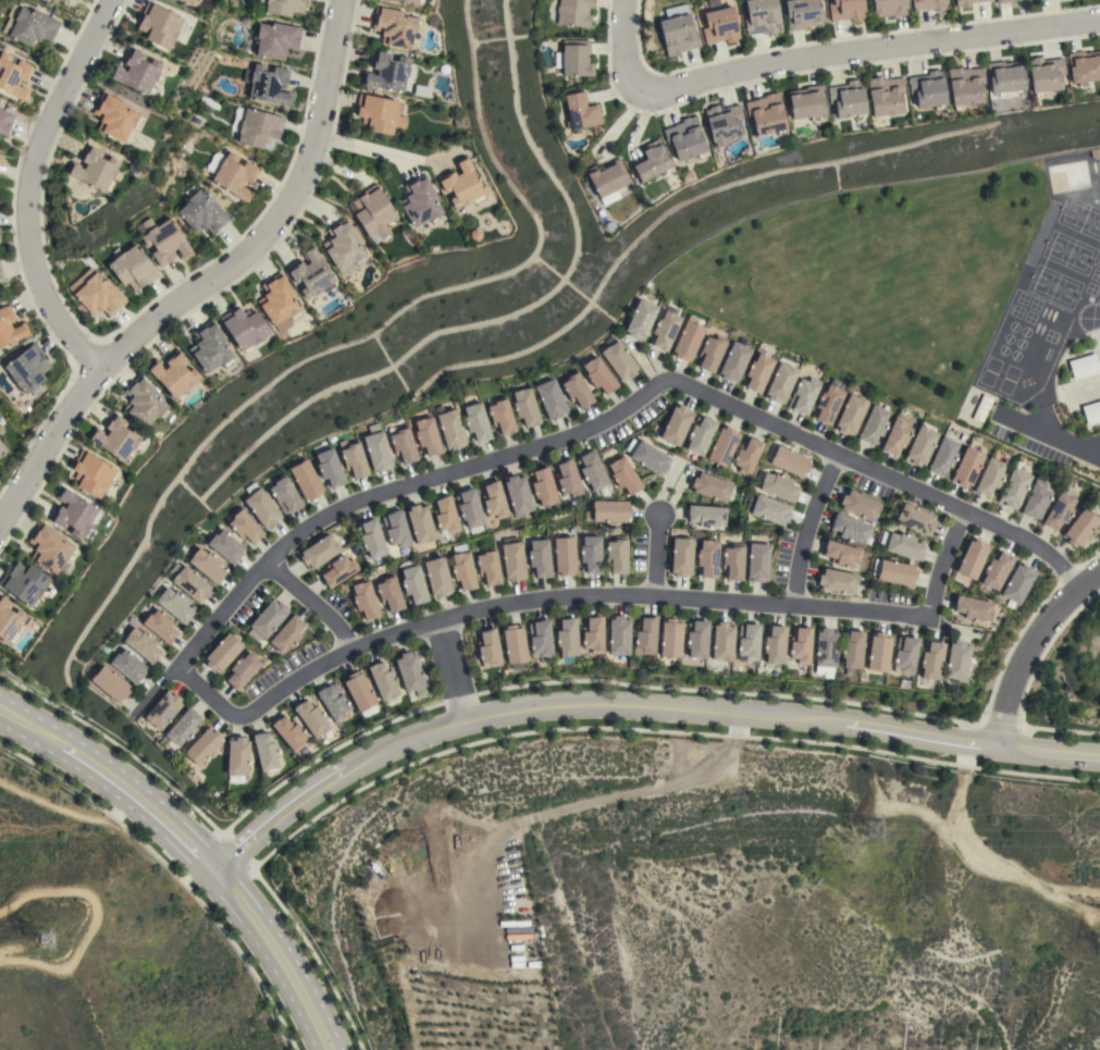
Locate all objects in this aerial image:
building: (54, 1)
building: (186, 1)
building: (407, 1)
building: (1002, 1)
building: (965, 2)
building: (713, 3)
building: (929, 4)
building: (283, 7)
building: (890, 8)
building: (846, 10)
building: (573, 12)
building: (803, 13)
building: (762, 16)
street lamp: (79, 21)
building: (28, 25)
building: (160, 25)
building: (720, 25)
building: (395, 26)
building: (678, 30)
building: (276, 39)
road: (630, 40)
road: (864, 52)
building: (574, 58)
building: (1084, 66)
building: (136, 72)
building: (388, 73)
building: (1046, 74)
building: (13, 76)
building: (1005, 77)
building: (268, 84)
building: (965, 86)
building: (928, 89)
building: (886, 95)
building: (848, 98)
building: (209, 102)
building: (807, 102)
building: (580, 111)
street lamp: (33, 113)
building: (379, 113)
building: (766, 114)
building: (115, 118)
building: (4, 122)
building: (722, 123)
building: (256, 126)
building: (685, 139)
road: (364, 148)
building: (651, 161)
building: (94, 170)
building: (232, 174)
building: (607, 181)
building: (461, 184)
road: (26, 186)
street lamp: (7, 199)
building: (421, 201)
building: (202, 213)
building: (373, 213)
building: (163, 240)
building: (344, 247)
building: (132, 268)
building: (312, 273)
building: (1, 275)
road: (207, 279)
street lamp: (22, 289)
building: (98, 296)
building: (279, 302)
building: (640, 319)
building: (10, 328)
building: (665, 328)
building: (244, 329)
street lamp: (86, 338)
building: (688, 339)
building: (210, 347)
building: (710, 351)
building: (618, 359)
building: (733, 362)
building: (1084, 366)
building: (27, 368)
building: (757, 372)
building: (174, 374)
building: (598, 374)
street lamp: (71, 382)
building: (780, 383)
building: (577, 390)
building: (804, 395)
building: (551, 399)
building: (144, 402)
building: (828, 404)
building: (526, 407)
building: (981, 408)
building: (1091, 412)
building: (851, 415)
building: (502, 416)
building: (477, 422)
building: (676, 424)
building: (873, 424)
building: (450, 429)
road: (586, 430)
building: (427, 435)
building: (700, 435)
road: (1050, 435)
building: (895, 436)
building: (116, 438)
building: (403, 444)
building: (920, 446)
building: (722, 447)
building: (2, 449)
building: (378, 449)
building: (647, 456)
building: (746, 456)
building: (943, 456)
building: (355, 460)
building: (790, 461)
building: (967, 467)
building: (330, 468)
building: (592, 470)
street lamp: (49, 473)
building: (92, 474)
building: (623, 475)
building: (990, 477)
building: (568, 479)
building: (306, 480)
building: (709, 486)
building: (778, 486)
building: (543, 487)
building: (1014, 489)
building: (285, 494)
building: (518, 494)
building: (494, 499)
building: (1036, 501)
building: (858, 505)
building: (261, 506)
building: (469, 508)
building: (768, 509)
building: (1059, 510)
building: (608, 511)
building: (74, 514)
building: (445, 516)
building: (705, 516)
building: (915, 519)
building: (420, 523)
building: (245, 526)
road: (804, 527)
building: (1080, 528)
building: (395, 529)
building: (849, 529)
building: (371, 539)
building: (902, 544)
building: (225, 546)
building: (51, 549)
building: (319, 552)
building: (591, 554)
building: (617, 554)
building: (841, 554)
building: (564, 555)
road: (654, 555)
building: (680, 556)
building: (540, 558)
building: (707, 558)
building: (972, 558)
building: (512, 561)
building: (733, 561)
building: (757, 561)
road: (942, 564)
building: (207, 565)
building: (489, 566)
building: (462, 568)
building: (996, 570)
building: (338, 571)
building: (895, 572)
building: (436, 577)
building: (837, 581)
building: (189, 582)
building: (1017, 582)
building: (412, 583)
building: (24, 584)
building: (388, 593)
building: (364, 600)
road: (528, 601)
road: (312, 602)
building: (175, 605)
building: (973, 608)
building: (268, 619)
building: (9, 621)
building: (159, 626)
building: (287, 634)
building: (593, 634)
building: (619, 635)
building: (645, 637)
building: (670, 638)
building: (540, 639)
building: (696, 639)
building: (567, 640)
building: (722, 641)
building: (747, 642)
building: (143, 644)
building: (800, 645)
building: (514, 646)
building: (774, 646)
road: (1026, 646)
building: (489, 648)
building: (825, 651)
building: (852, 652)
building: (878, 652)
building: (223, 653)
building: (904, 655)
building: (956, 660)
building: (930, 663)
building: (127, 666)
road: (450, 669)
building: (243, 670)
building: (408, 671)
building: (383, 680)
building: (111, 684)
building: (360, 693)
building: (333, 702)
road: (633, 705)
building: (163, 709)
building: (312, 718)
building: (183, 728)
building: (289, 732)
building: (203, 745)
building: (265, 752)
building: (237, 759)
road: (76, 814)
power tower: (878, 831)
road: (191, 851)
road: (104, 922)
power tower: (42, 939)

